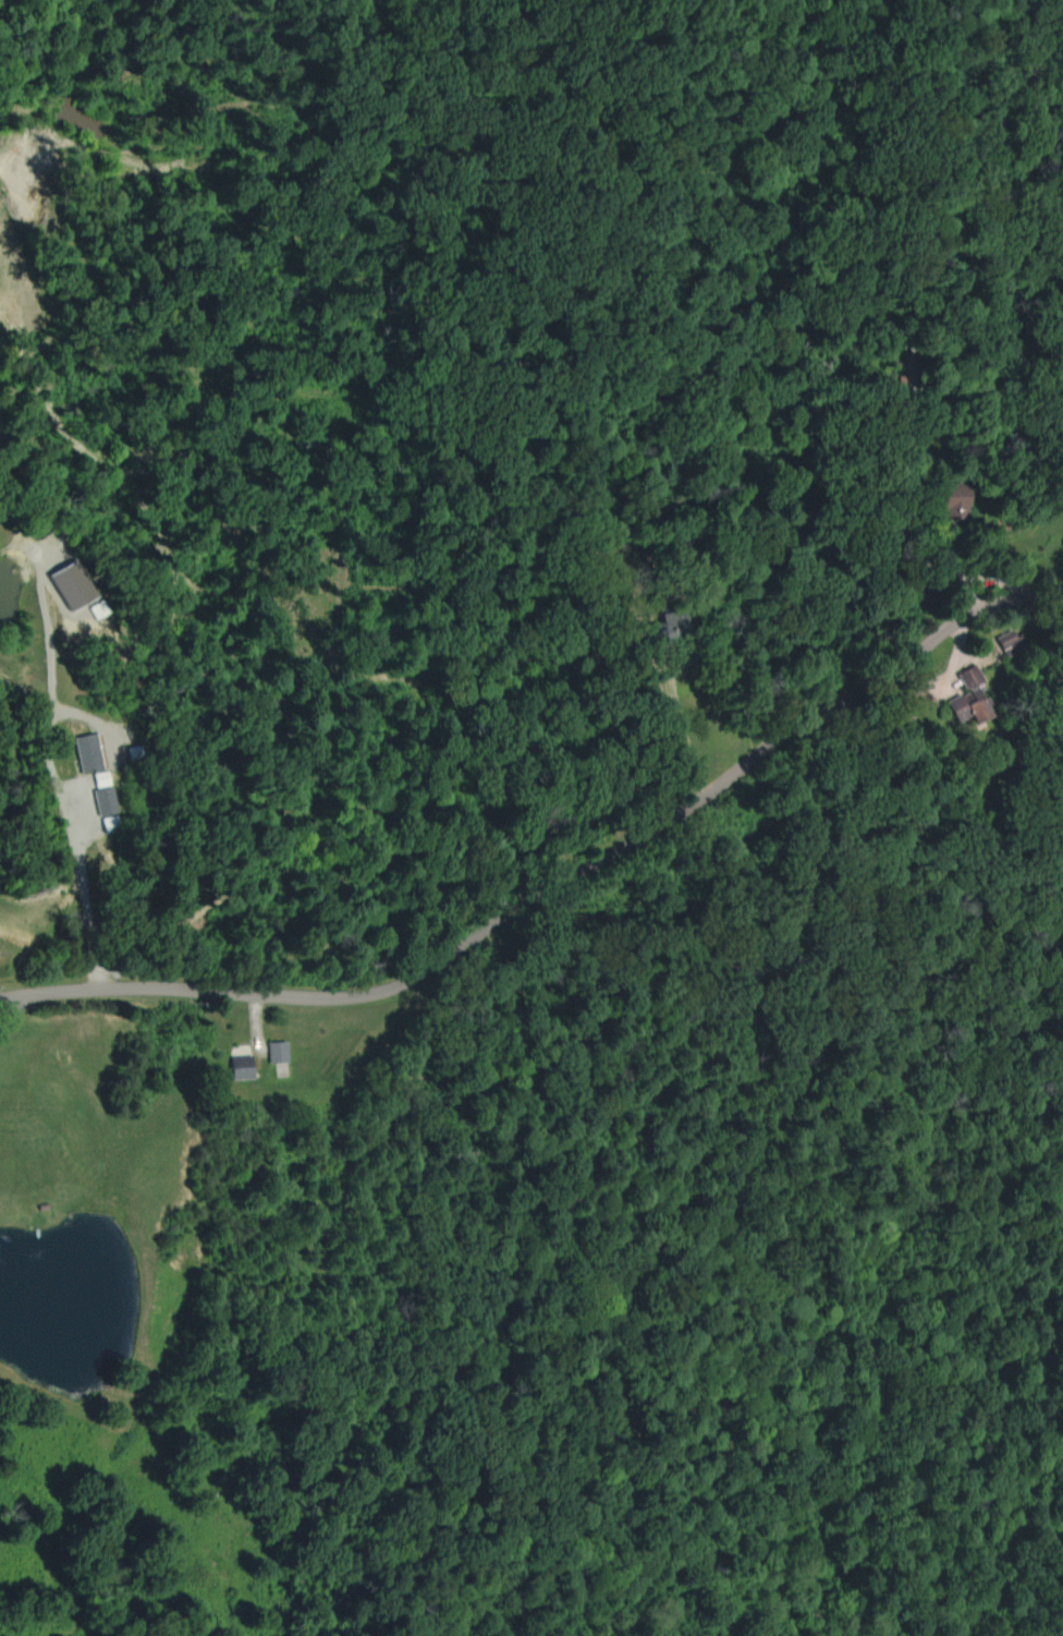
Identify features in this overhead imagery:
building: (949, 496)
building: (66, 584)
building: (660, 625)
building: (1006, 641)
building: (966, 698)
building: (84, 752)
road: (604, 859)
road: (78, 884)
building: (475, 929)
road: (48, 990)
building: (274, 1050)
building: (239, 1065)

